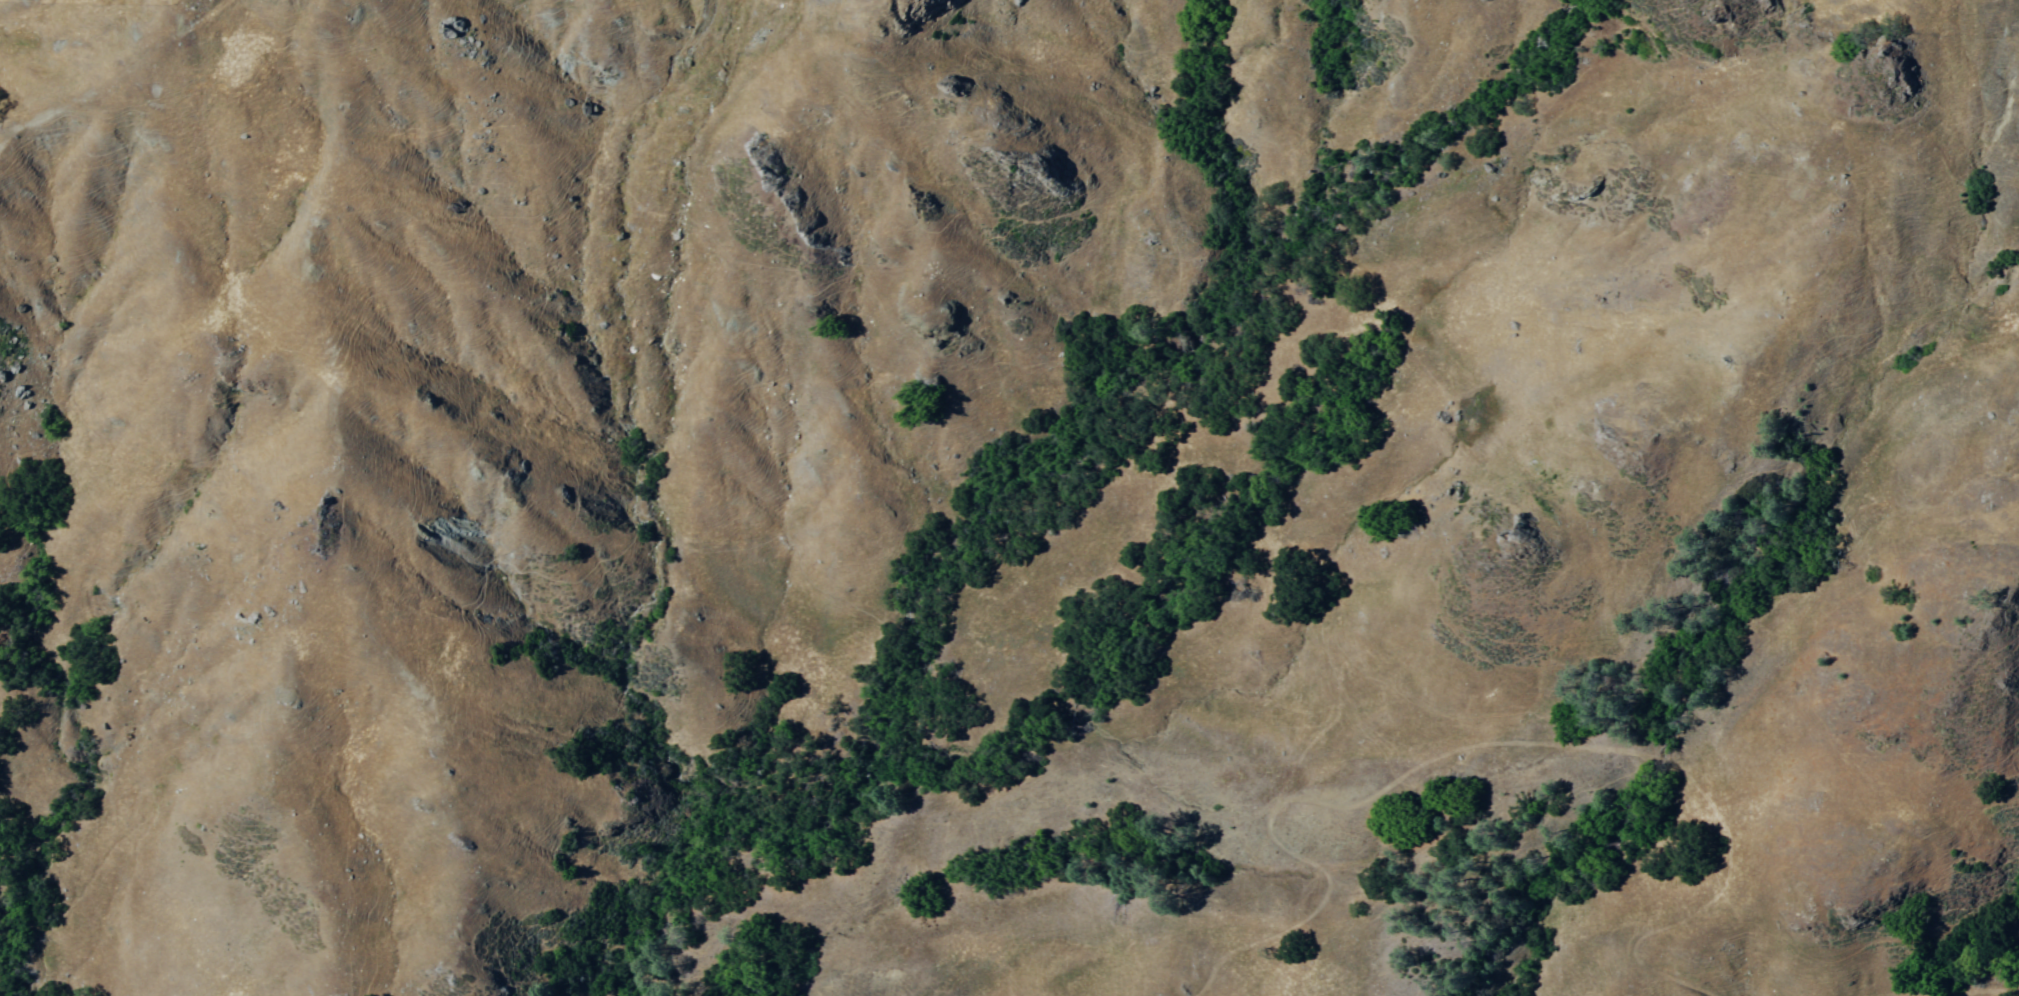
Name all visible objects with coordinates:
road: (115, 80)

